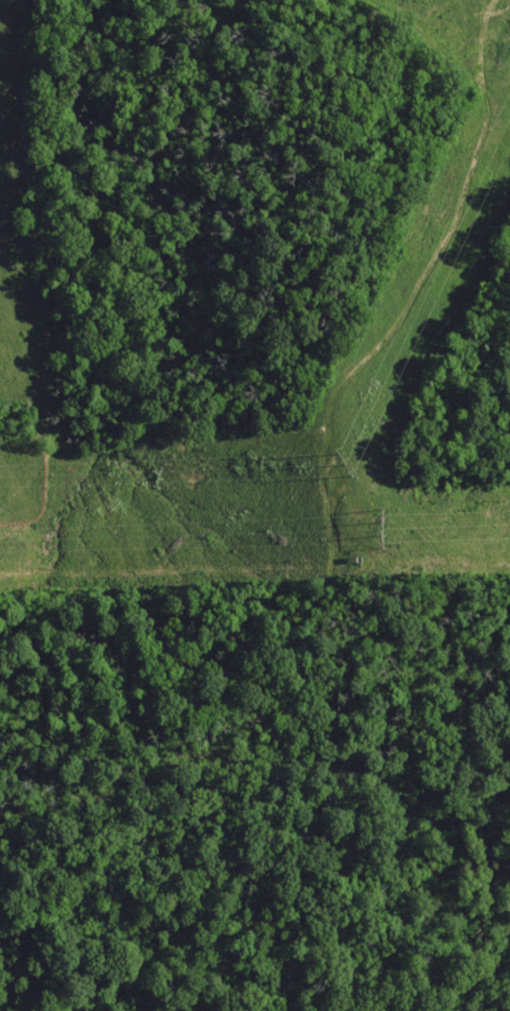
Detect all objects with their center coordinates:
power tower: (384, 525)

